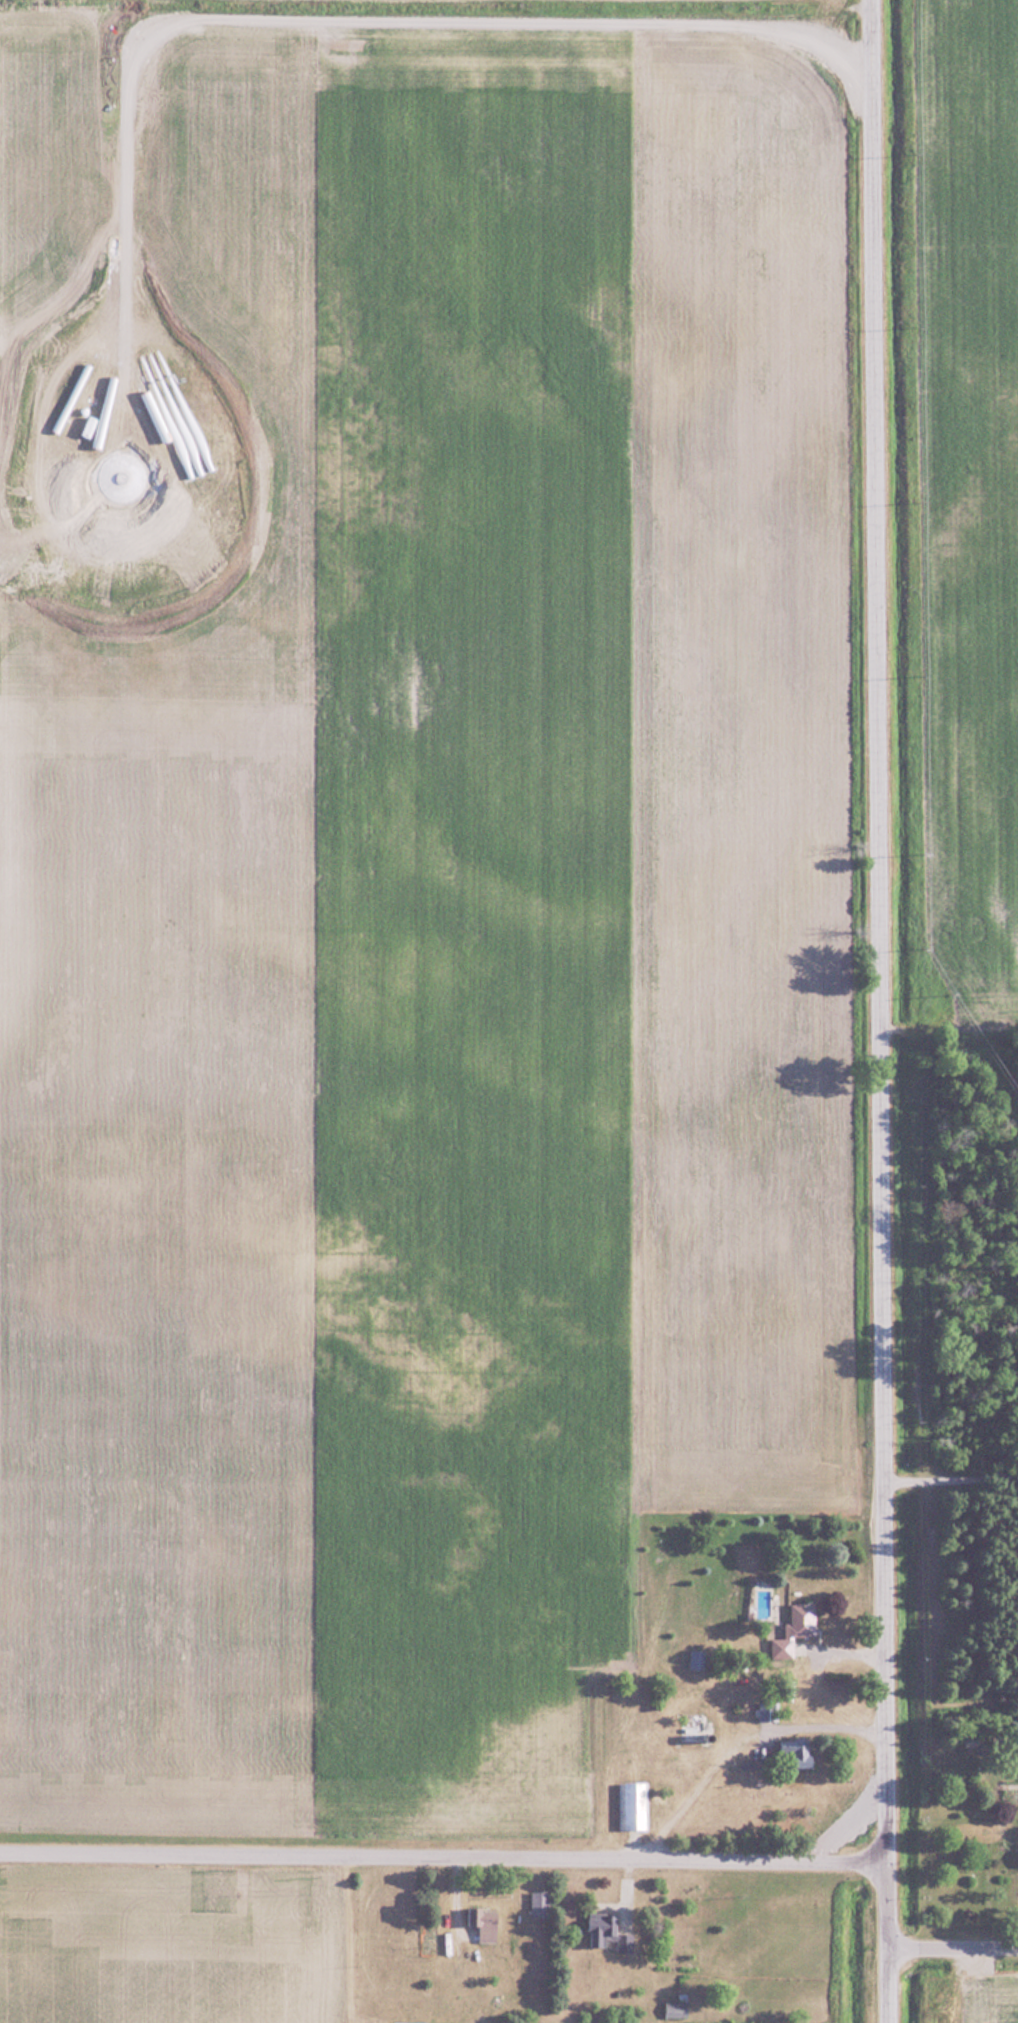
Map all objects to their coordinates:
wind turbine: (123, 482)
road: (881, 934)
building: (796, 1629)
building: (696, 1659)
building: (768, 1710)
road: (729, 1741)
building: (793, 1749)
building: (636, 1805)
road: (444, 1864)
building: (540, 1904)
road: (901, 1912)
building: (484, 1925)
building: (607, 1933)
road: (890, 1946)
road: (954, 1954)
building: (675, 2008)

